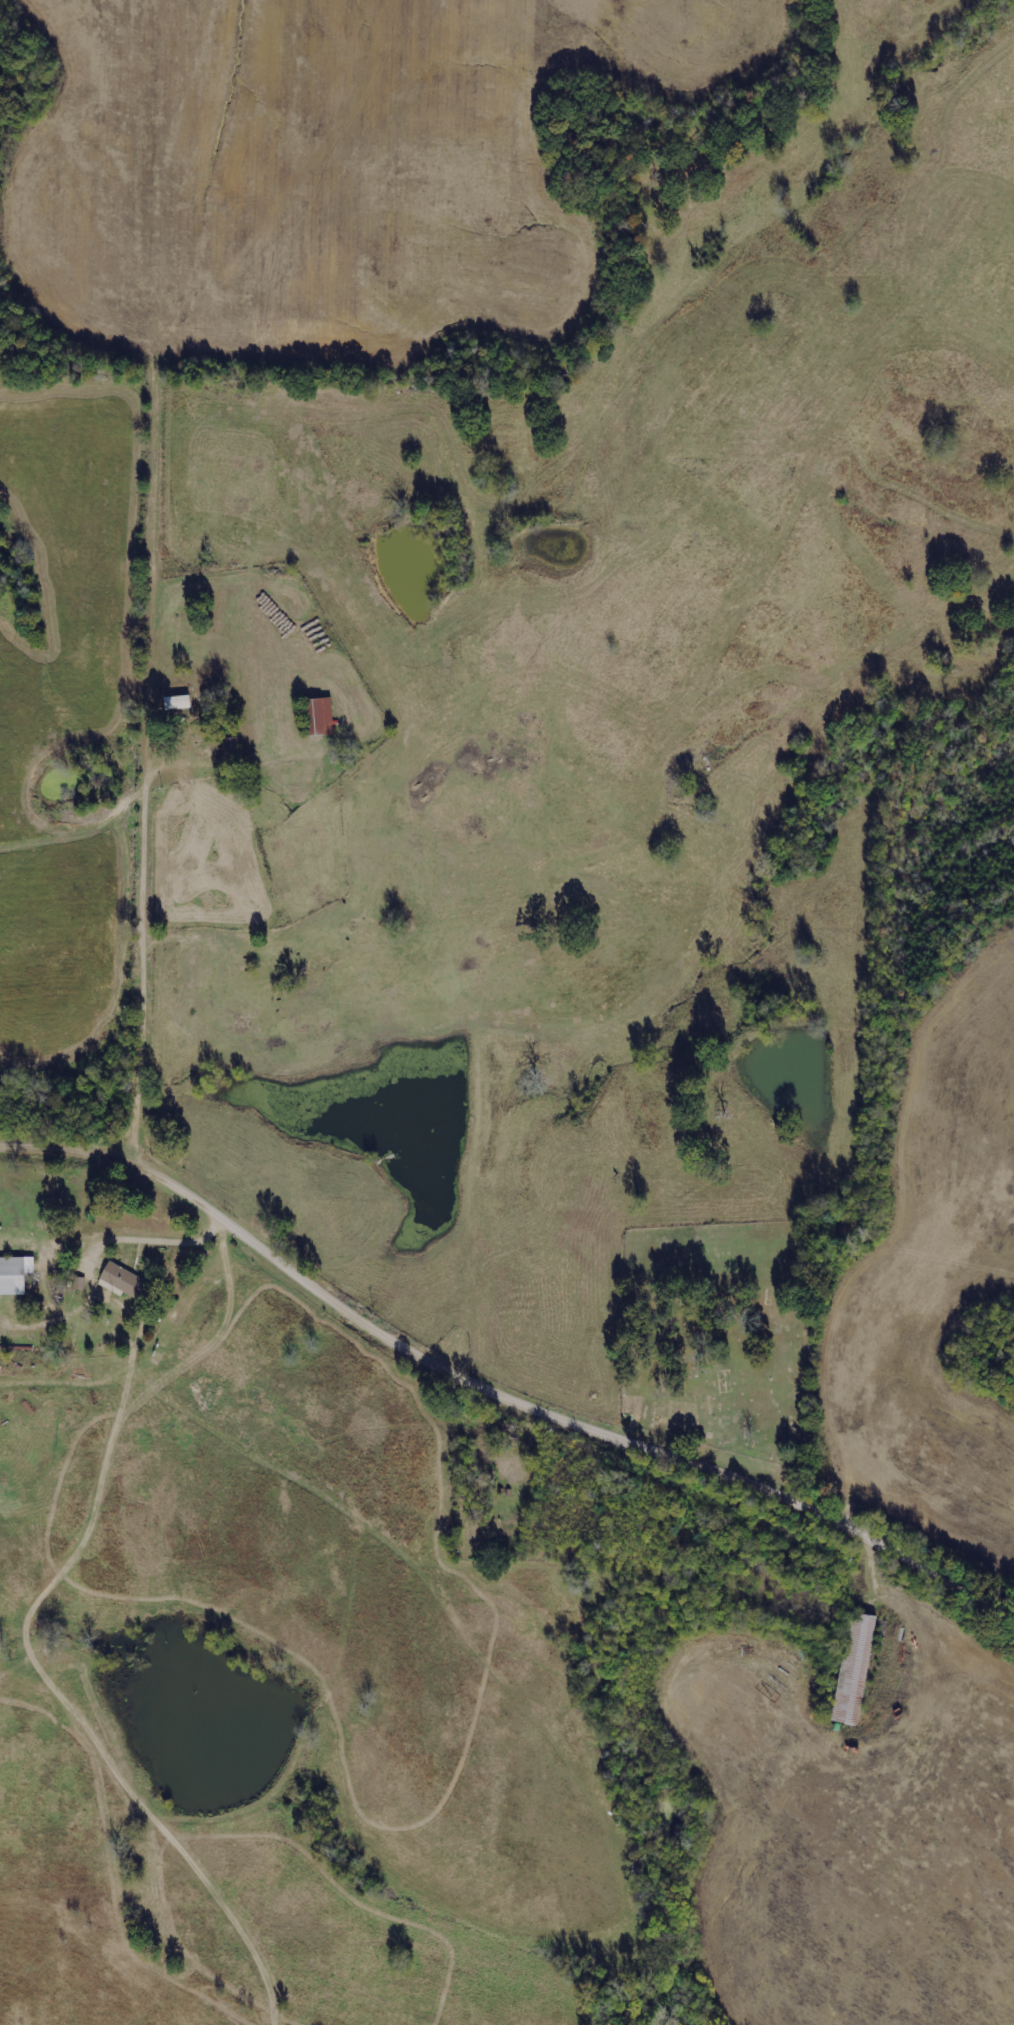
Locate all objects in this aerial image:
road: (156, 399)
building: (320, 717)
road: (140, 934)
road: (152, 1237)
building: (16, 1274)
building: (125, 1279)
park: (714, 1339)
road: (500, 1373)

